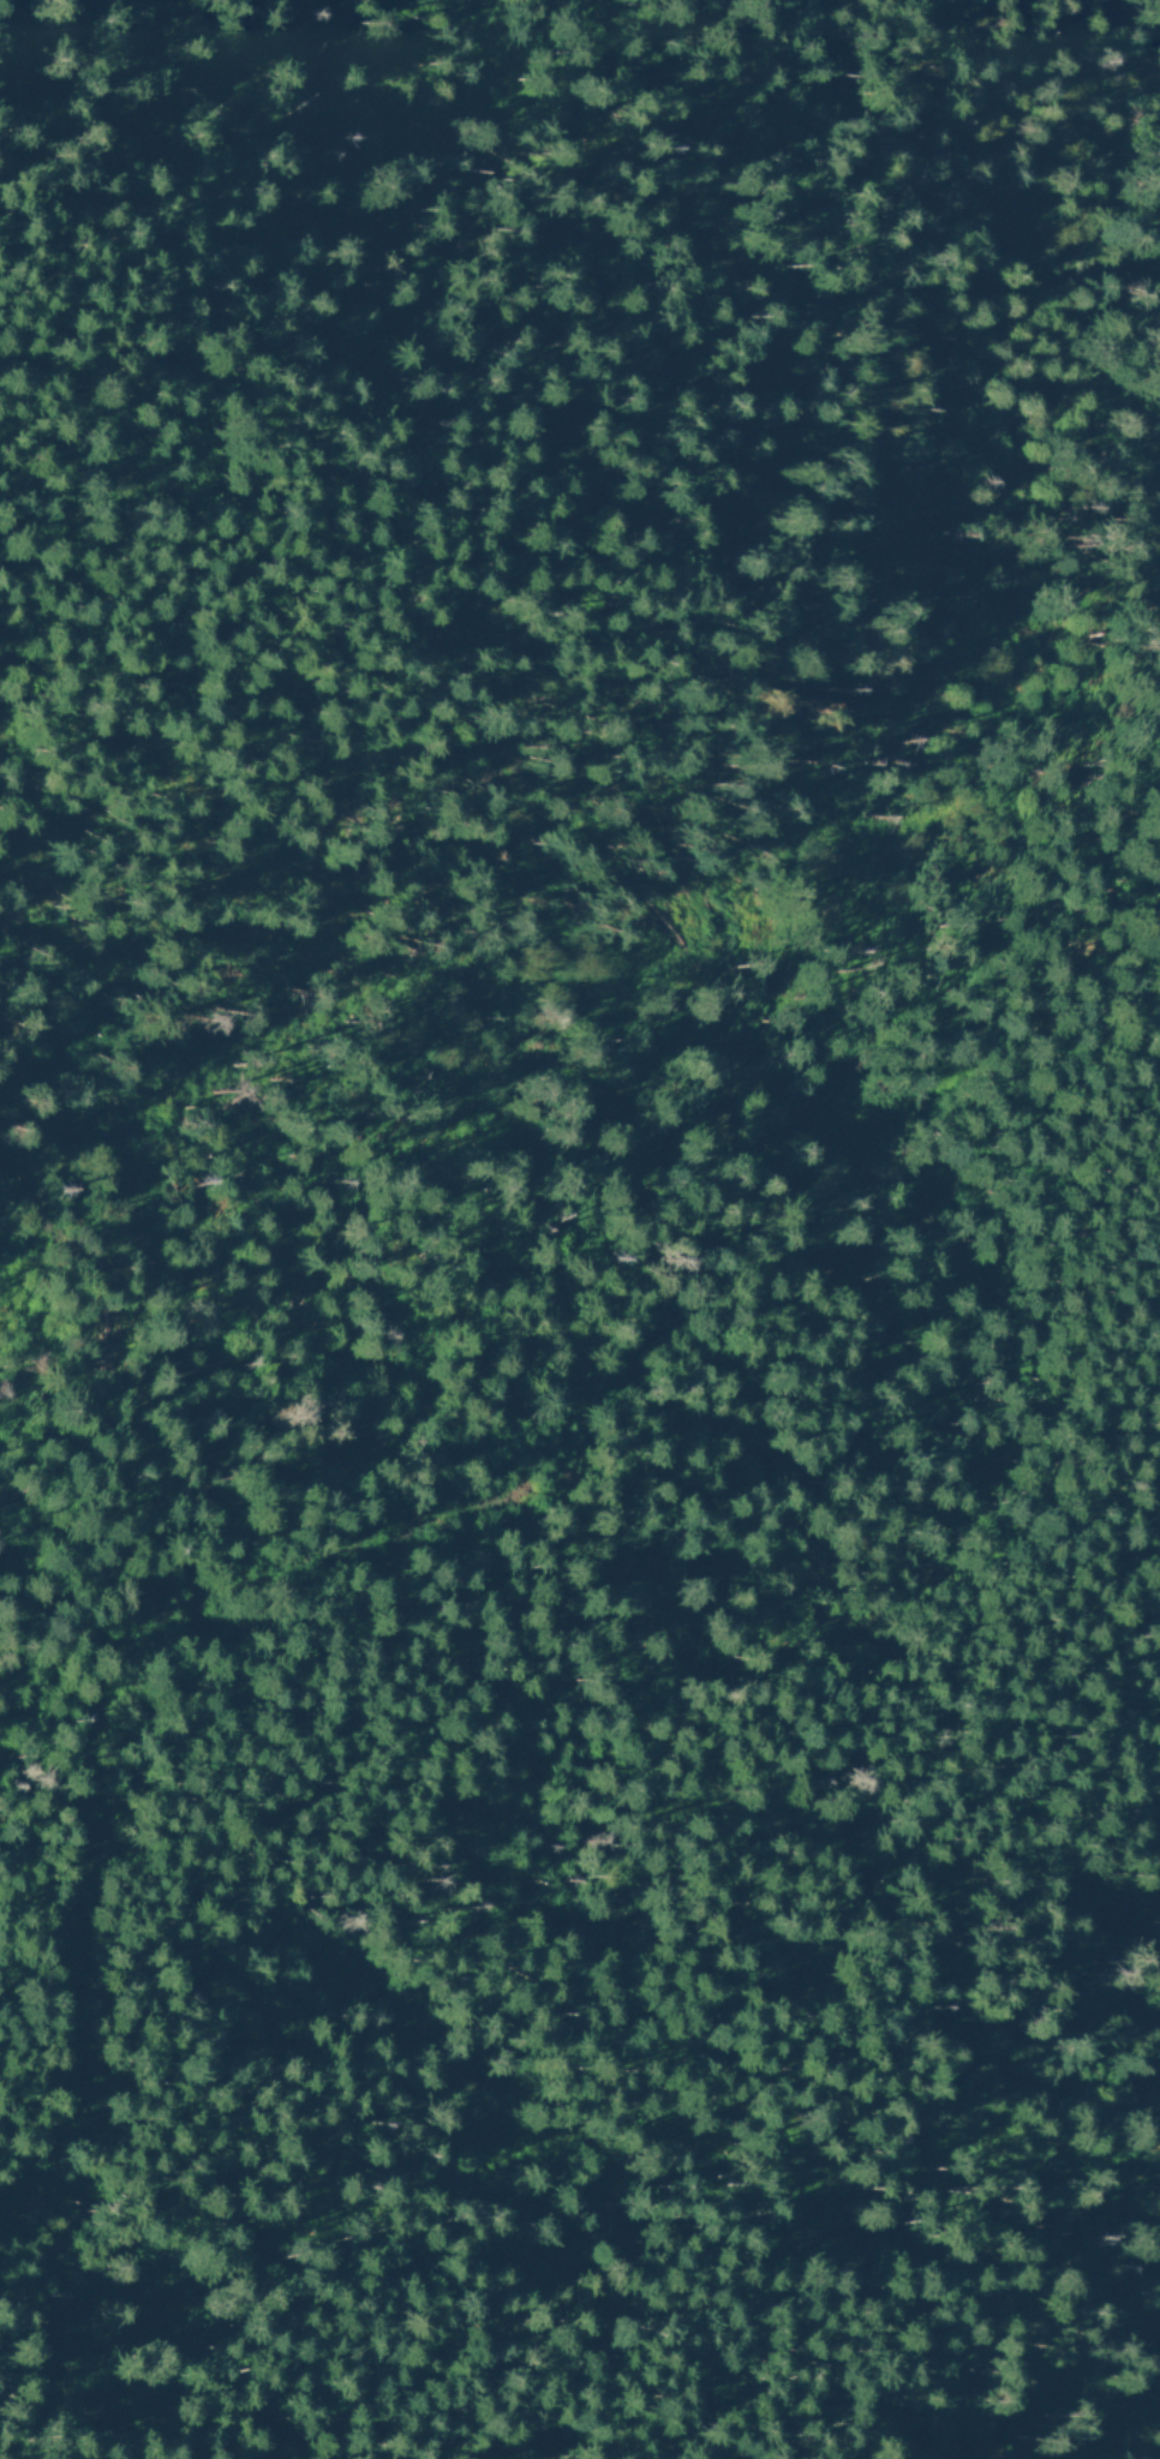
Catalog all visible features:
road: (844, 397)
road: (696, 1694)
road: (208, 1925)

